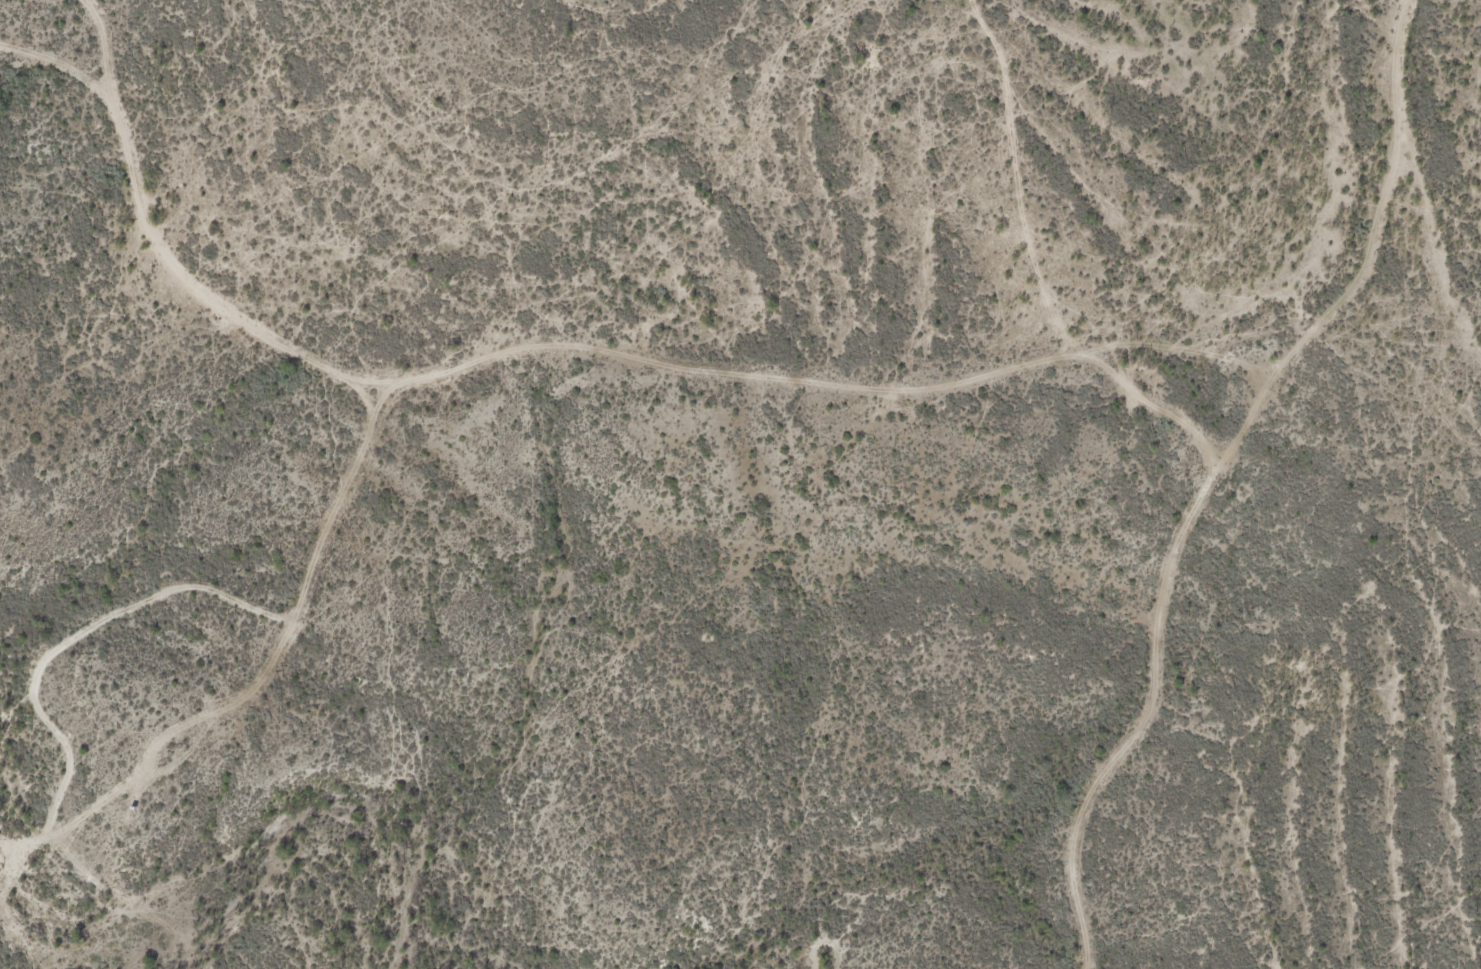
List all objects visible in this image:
road: (757, 374)
road: (1171, 669)

